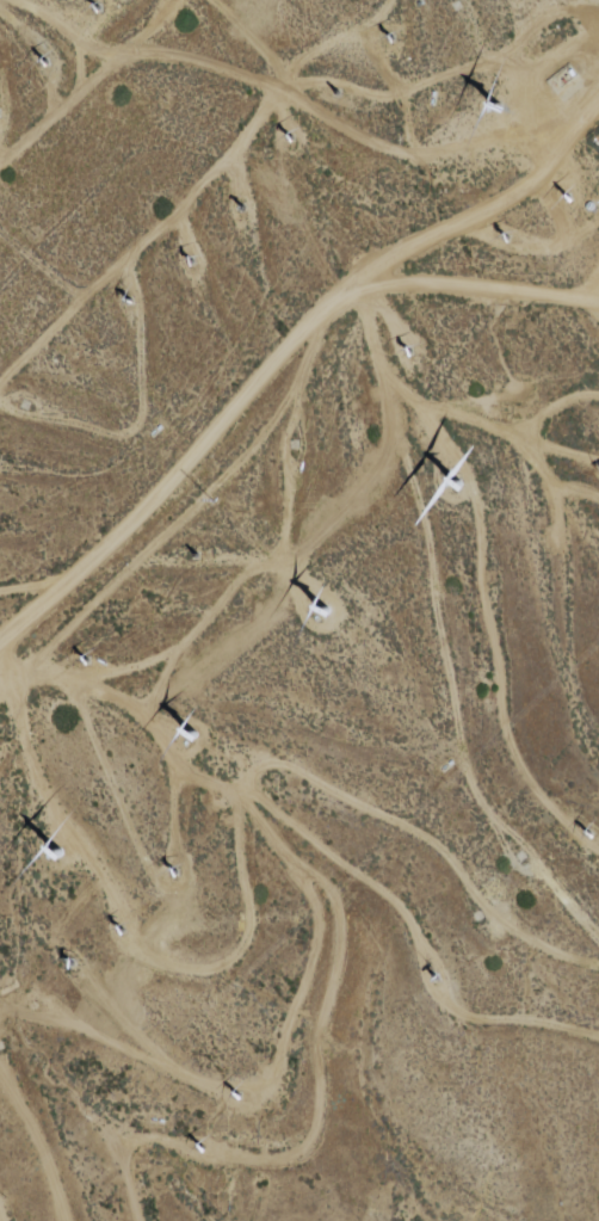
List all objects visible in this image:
wind turbine: (103, 8)
wind turbine: (394, 37)
wind turbine: (53, 60)
building: (564, 78)
wind turbine: (340, 92)
wind turbine: (505, 111)
wind turbine: (290, 138)
wind turbine: (573, 196)
wind turbine: (241, 206)
wind turbine: (506, 236)
wind turbine: (193, 261)
wind turbine: (130, 303)
wind turbine: (410, 353)
wind turbine: (295, 446)
wind turbine: (458, 488)
wind turbine: (198, 554)
wind turbine: (322, 612)
wind turbine: (86, 662)
wind turbine: (194, 738)
wind turbine: (589, 835)
wind turbine: (55, 855)
wind turbine: (173, 876)
wind turbine: (116, 935)
wind turbine: (70, 967)
wind turbine: (436, 981)
wind turbine: (237, 1097)
wind turbine: (200, 1152)

